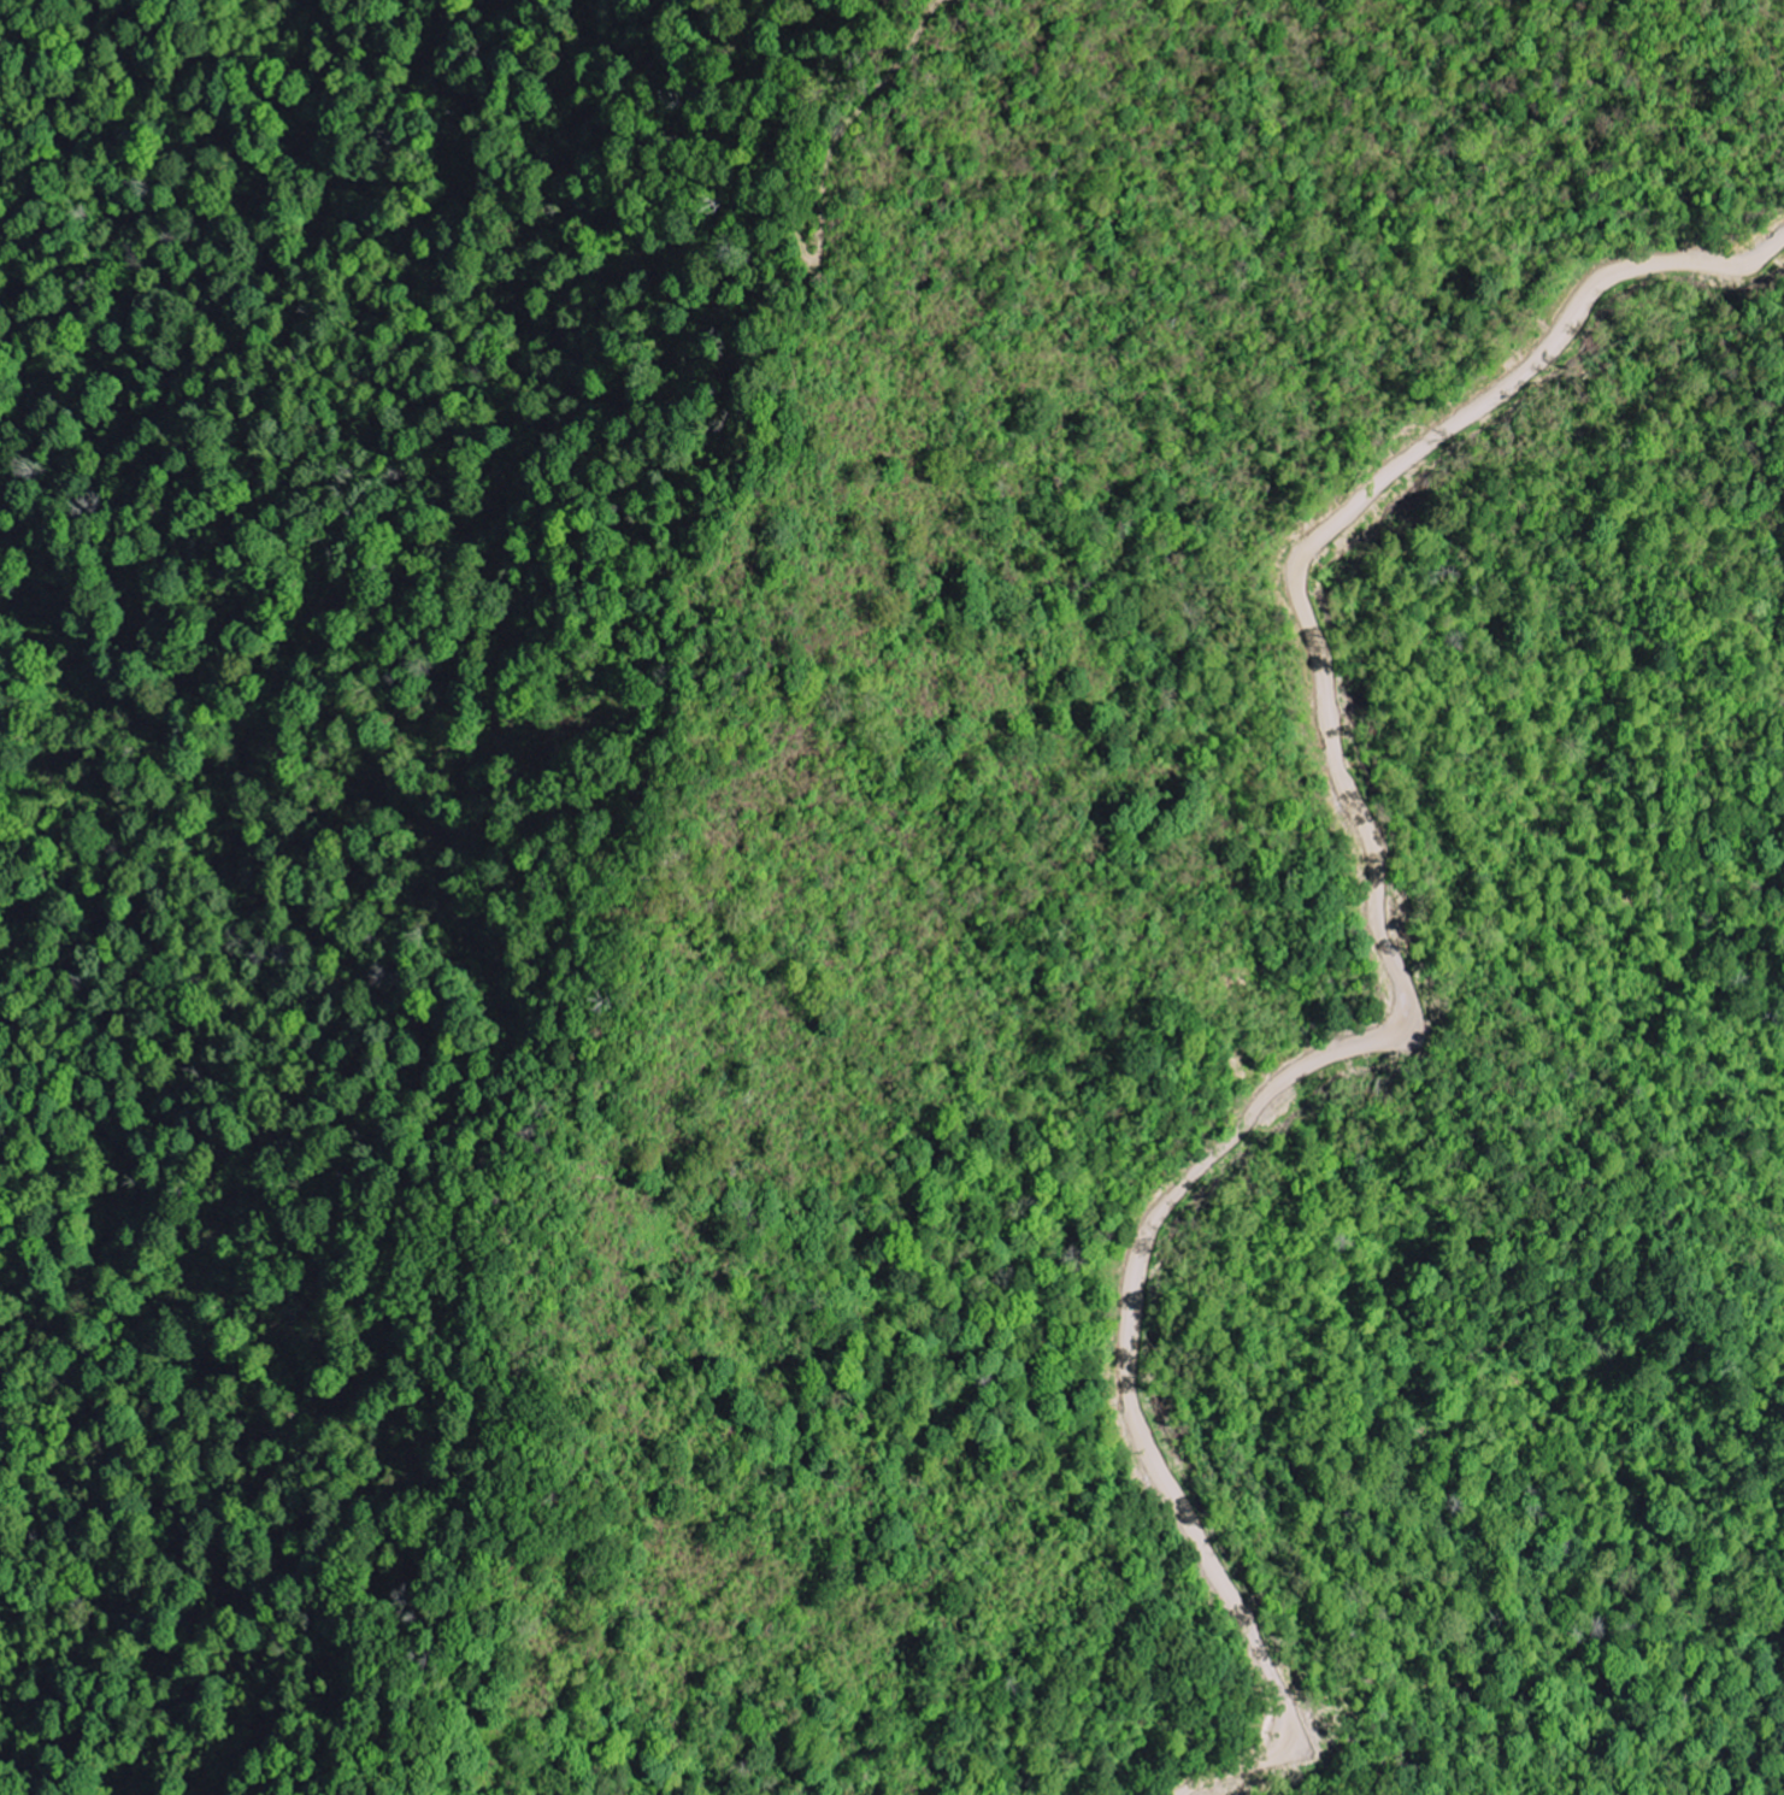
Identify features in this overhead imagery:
road: (1409, 989)

